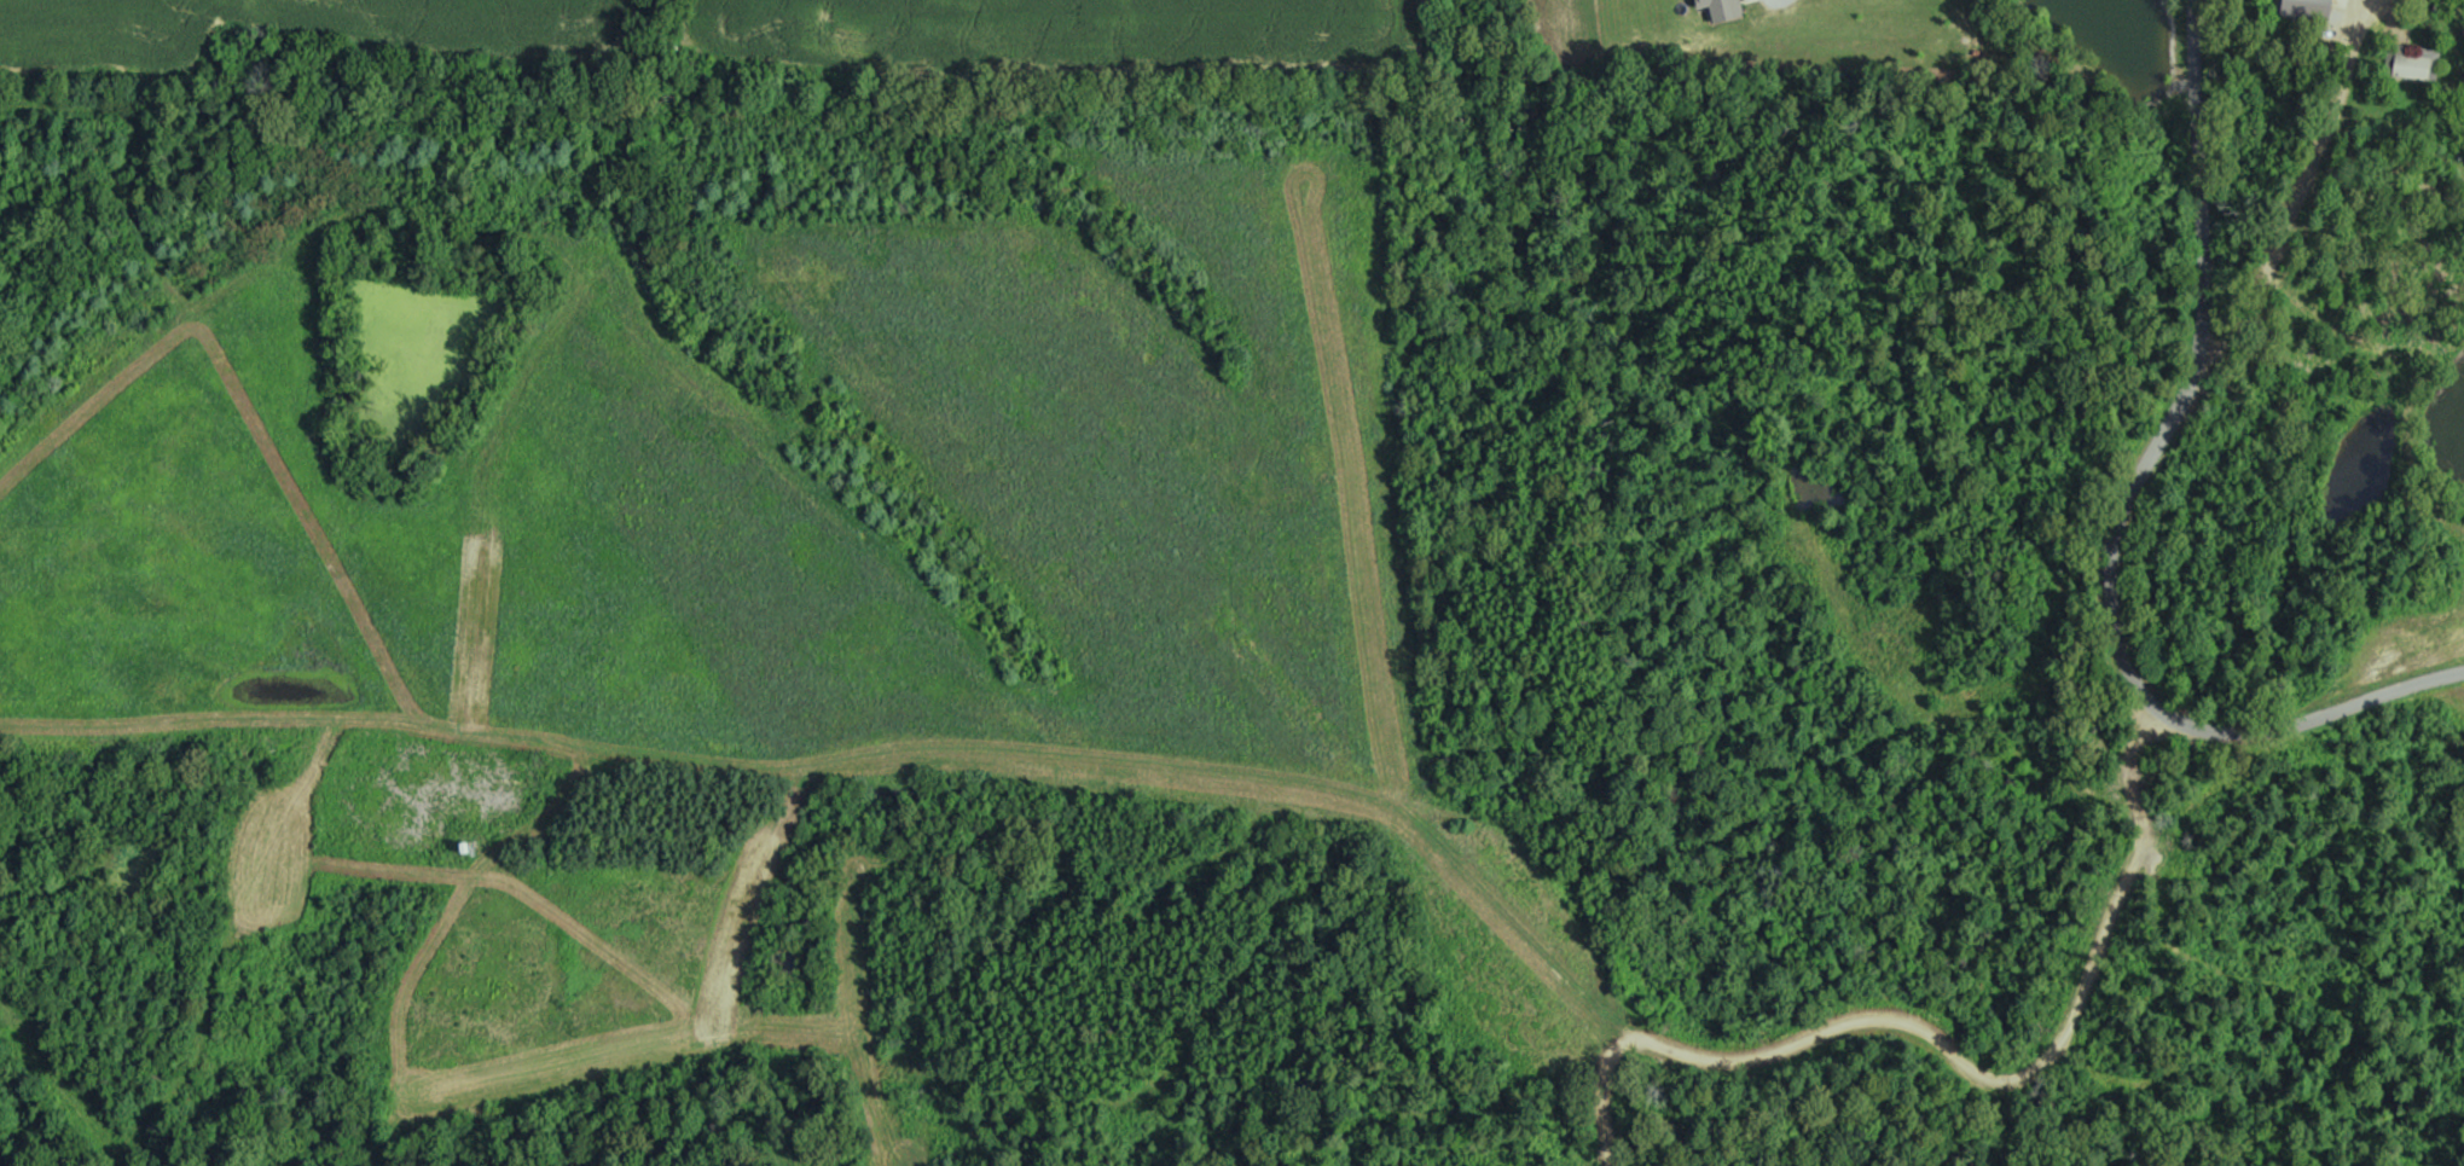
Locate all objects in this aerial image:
building: (2318, 1)
building: (1721, 8)
building: (2411, 62)
road: (2302, 175)
road: (2146, 511)

